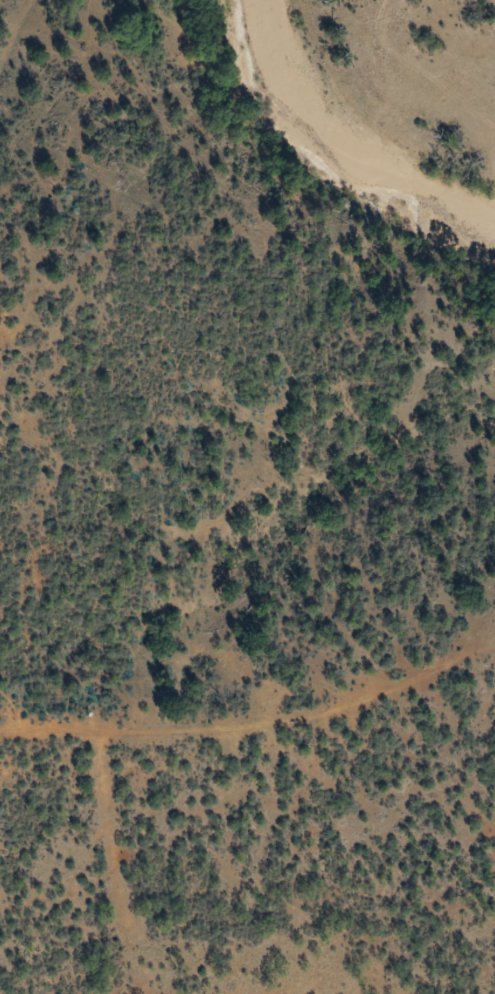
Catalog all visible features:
road: (250, 721)

